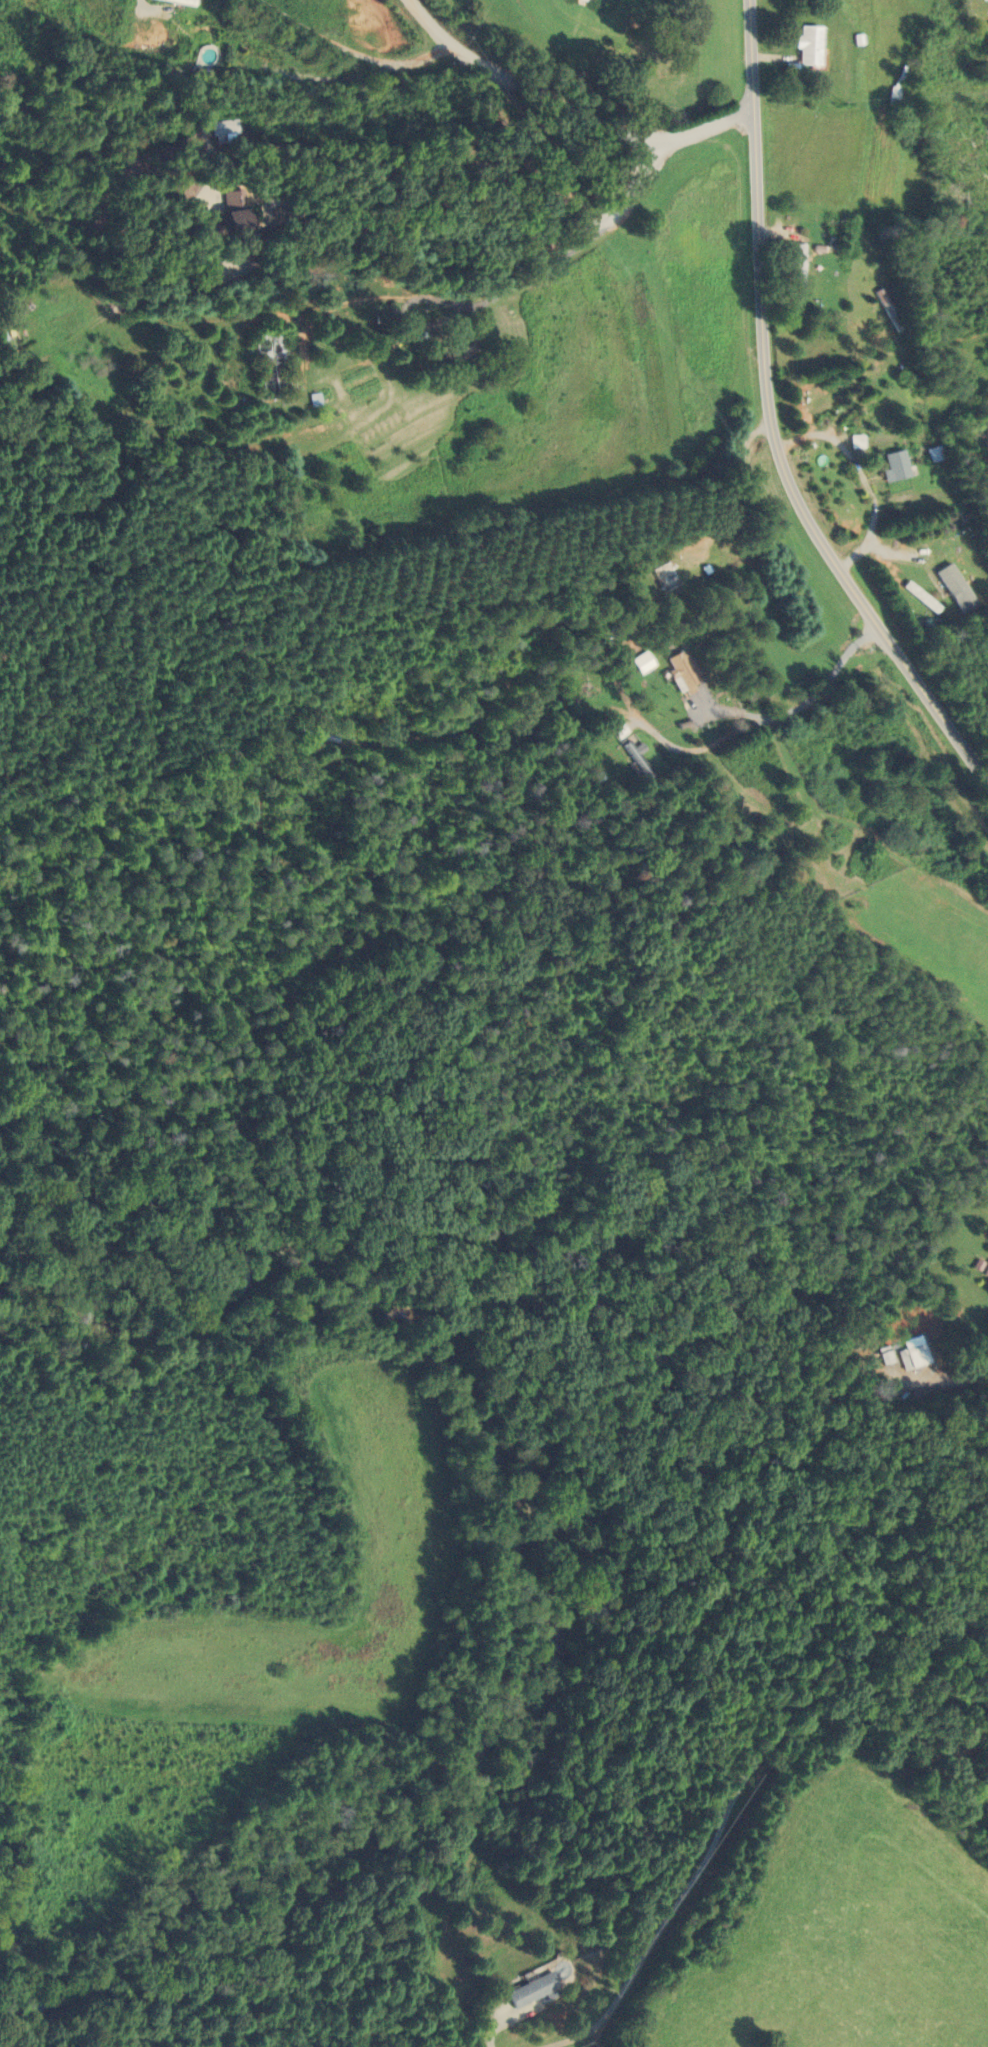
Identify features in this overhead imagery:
road: (156, 7)
building: (807, 46)
road: (354, 50)
building: (262, 55)
road: (572, 107)
building: (222, 127)
building: (229, 222)
road: (336, 243)
building: (797, 265)
building: (454, 350)
building: (269, 364)
road: (771, 421)
building: (934, 453)
building: (894, 465)
building: (665, 576)
building: (956, 582)
building: (642, 662)
building: (682, 671)
road: (800, 704)
building: (319, 733)
building: (610, 734)
building: (636, 756)
building: (985, 1271)
building: (913, 1356)
road: (960, 1379)
road: (776, 1730)
building: (532, 1991)

